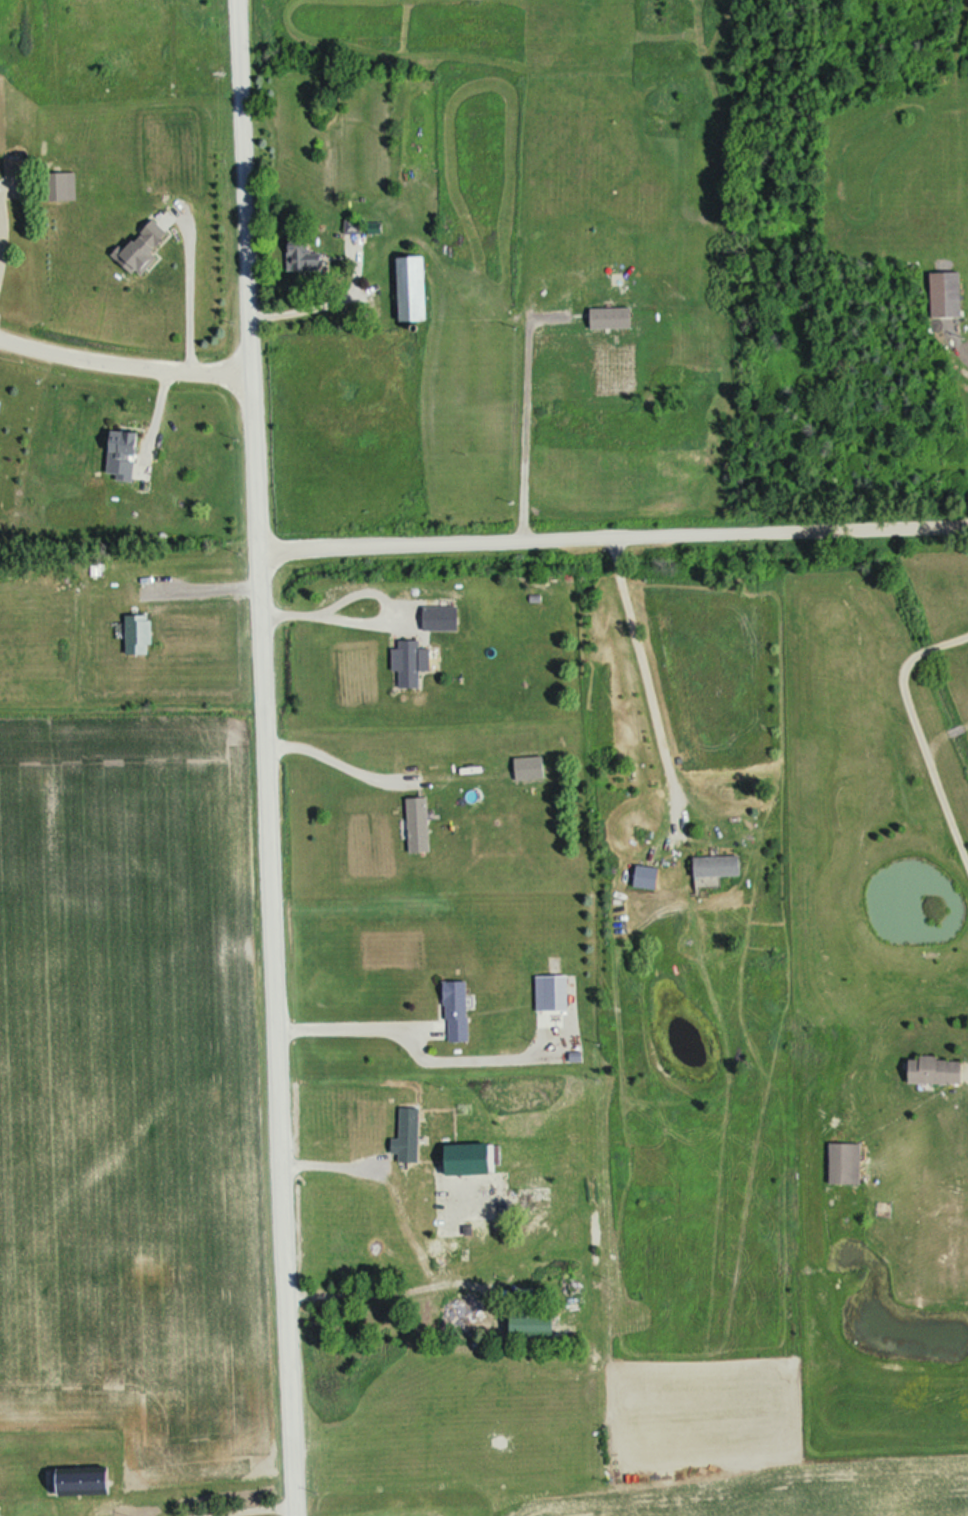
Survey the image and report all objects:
building: (15, 169)
road: (8, 226)
building: (355, 228)
building: (143, 250)
building: (303, 252)
building: (413, 289)
road: (194, 293)
building: (947, 296)
road: (124, 355)
building: (123, 457)
road: (612, 538)
road: (199, 585)
building: (140, 636)
building: (411, 665)
road: (640, 684)
road: (967, 726)
road: (957, 731)
road: (326, 755)
road: (260, 758)
building: (530, 770)
road: (943, 797)
building: (419, 827)
building: (719, 868)
building: (457, 1013)
road: (343, 1023)
building: (937, 1073)
building: (409, 1138)
building: (470, 1161)
building: (845, 1165)
building: (145, 1261)
building: (42, 1268)
building: (466, 1316)
building: (82, 1483)
road: (225, 1508)

